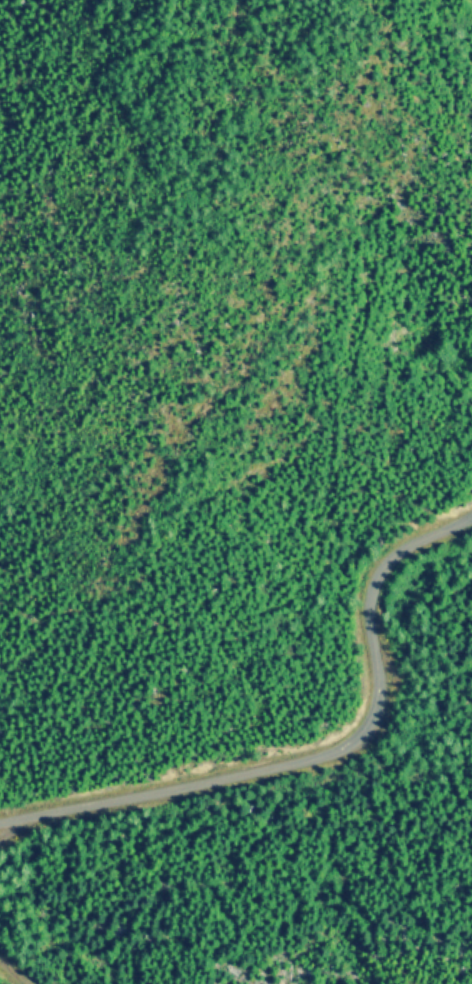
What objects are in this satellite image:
road: (325, 761)

